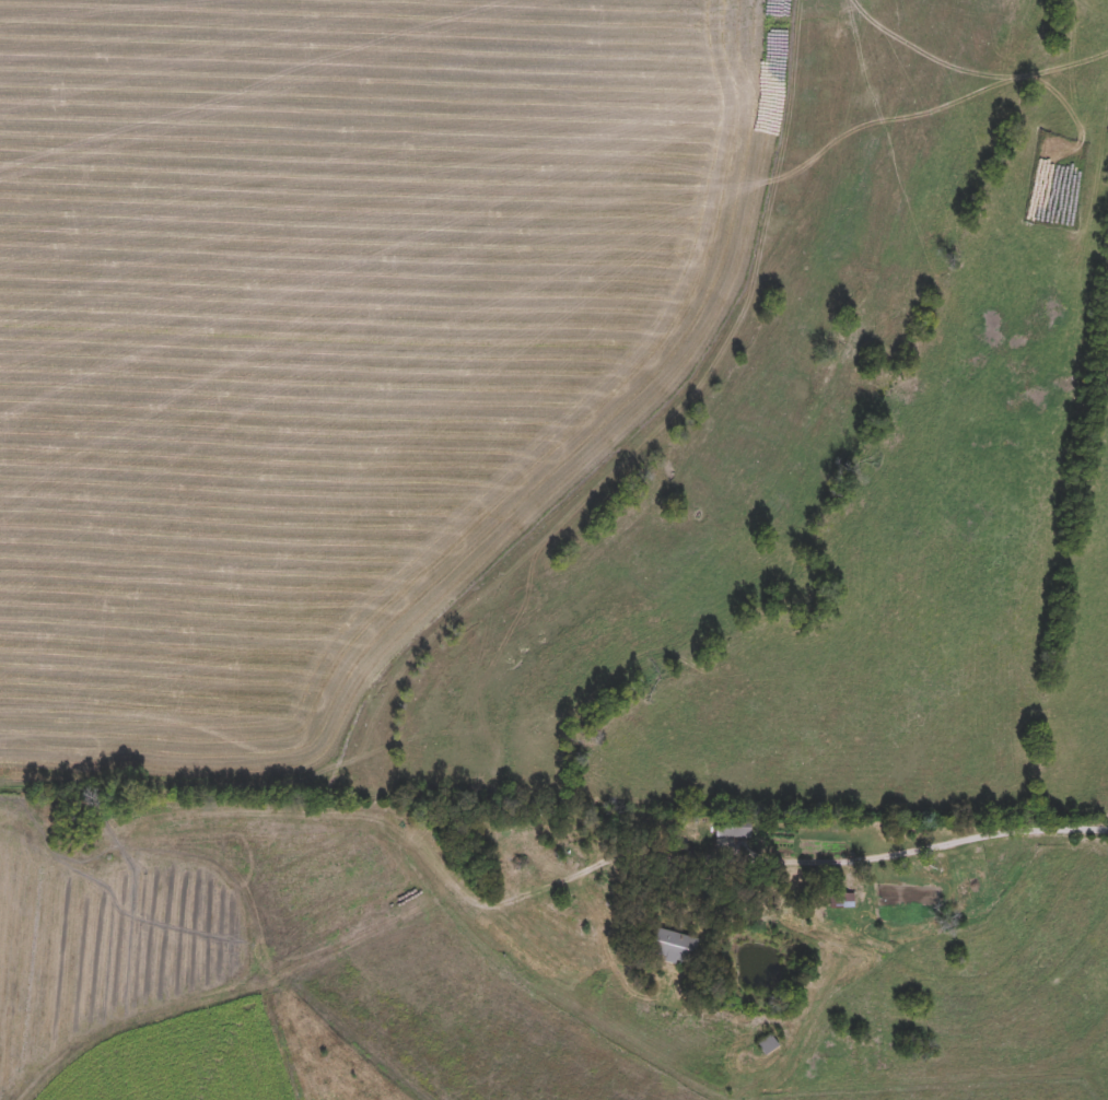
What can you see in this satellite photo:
road: (763, 863)
building: (674, 948)
building: (770, 1045)

